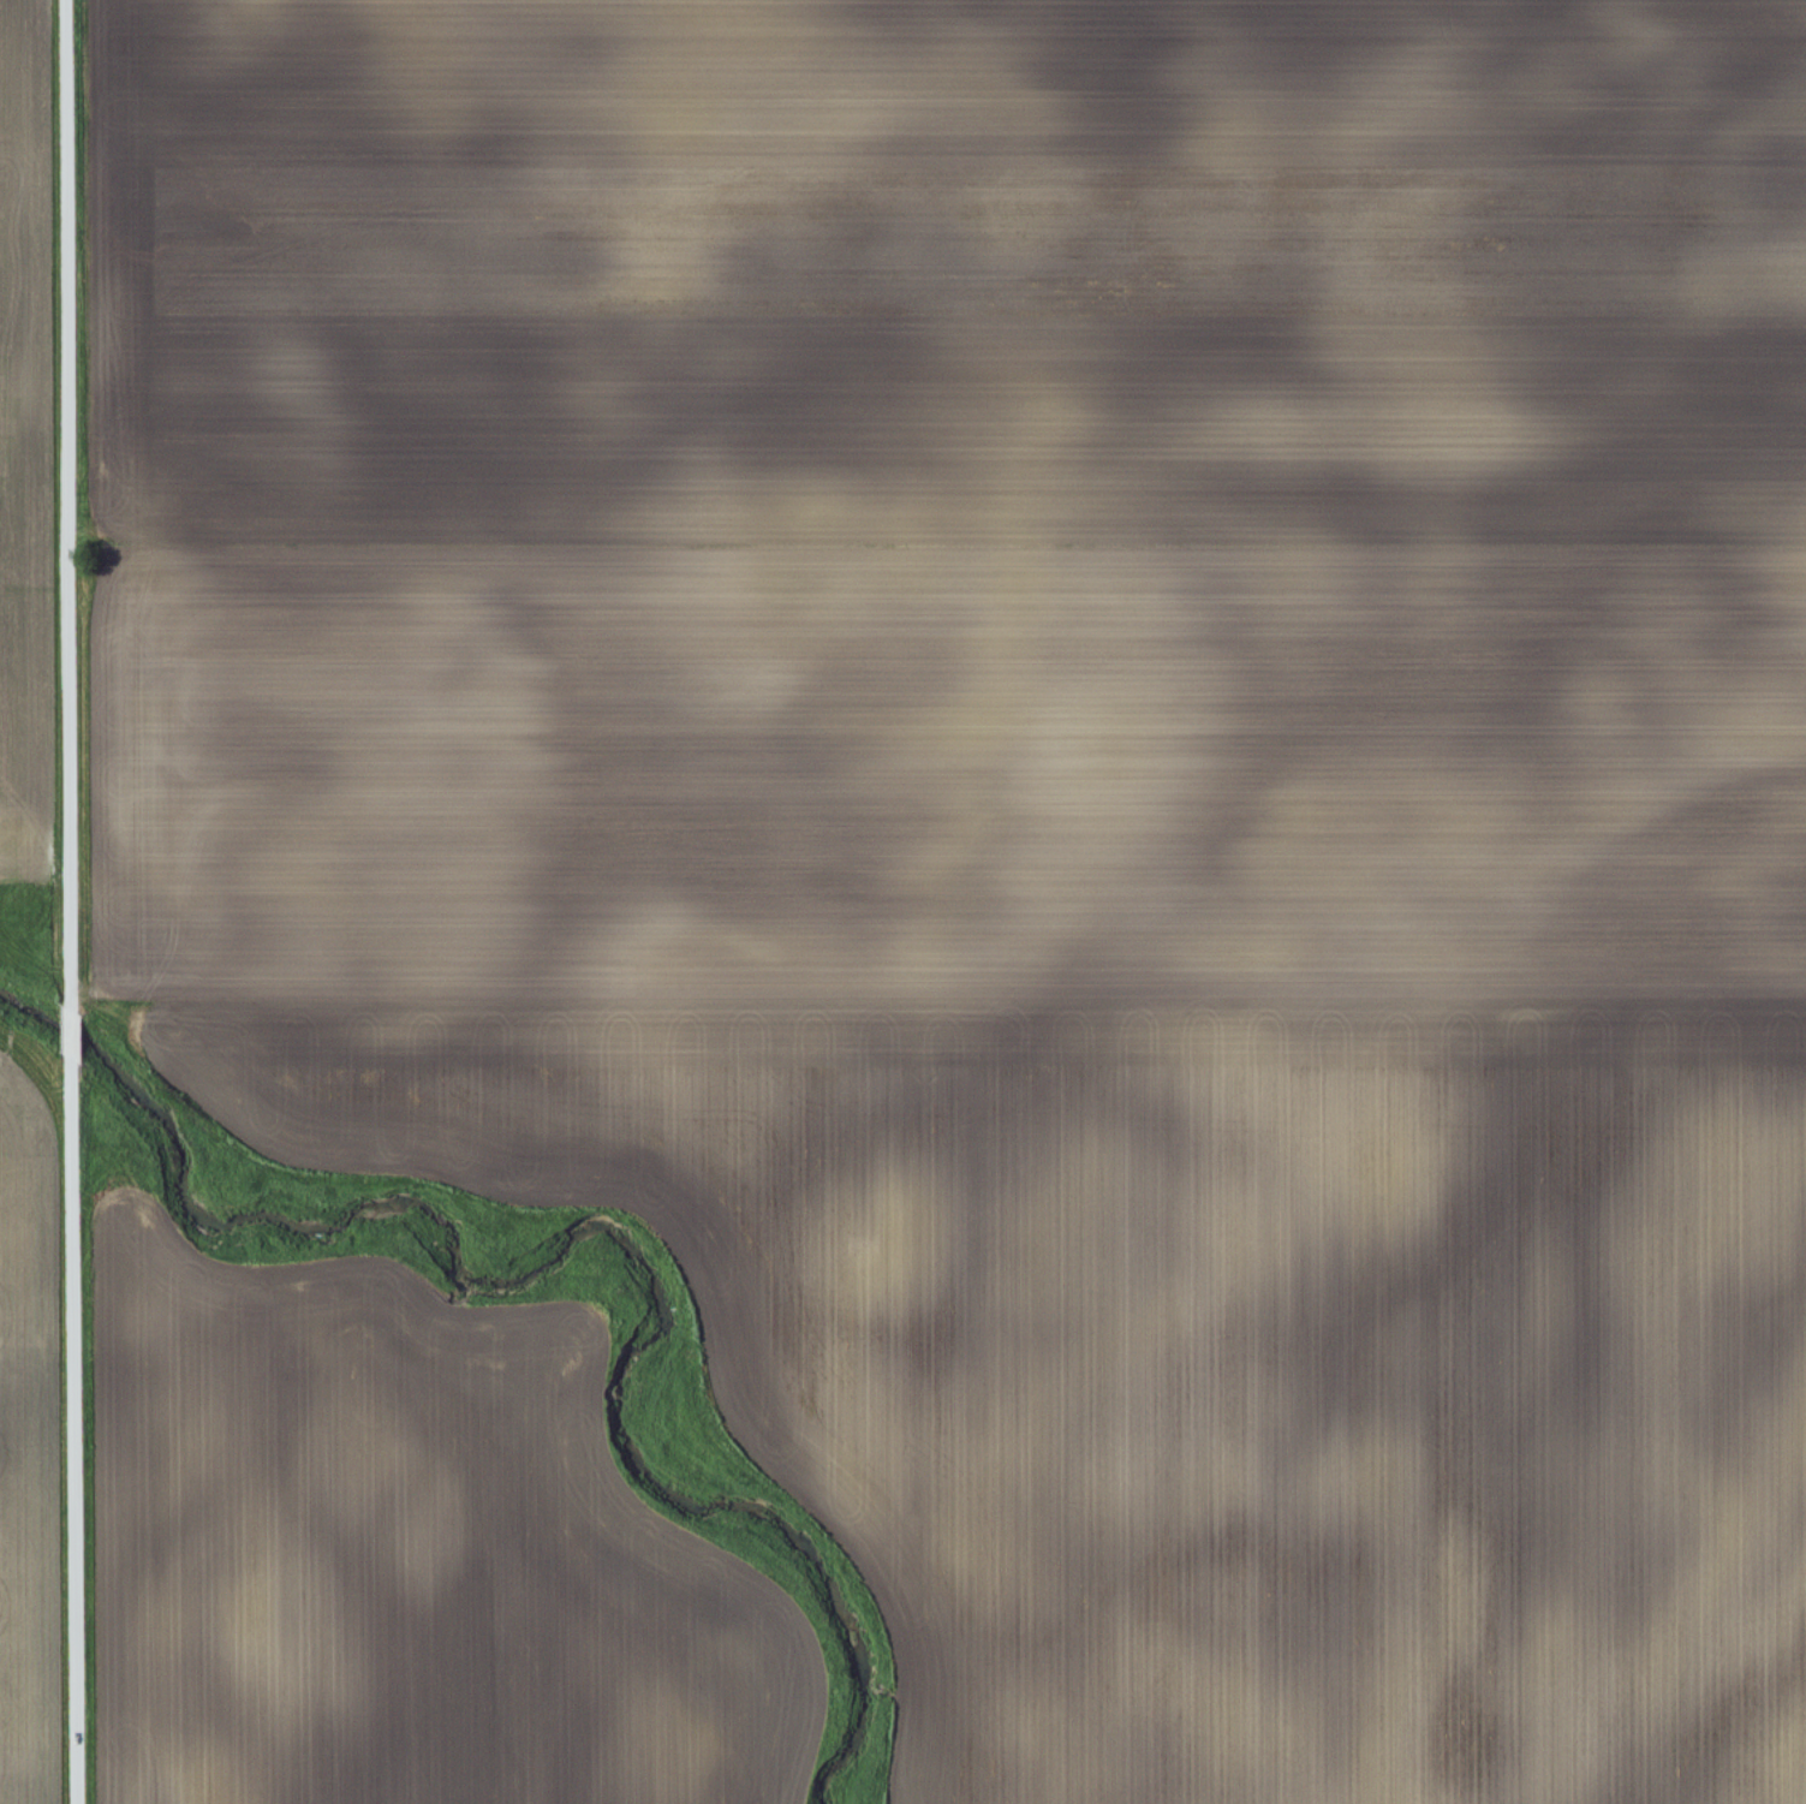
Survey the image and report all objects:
road: (72, 901)

